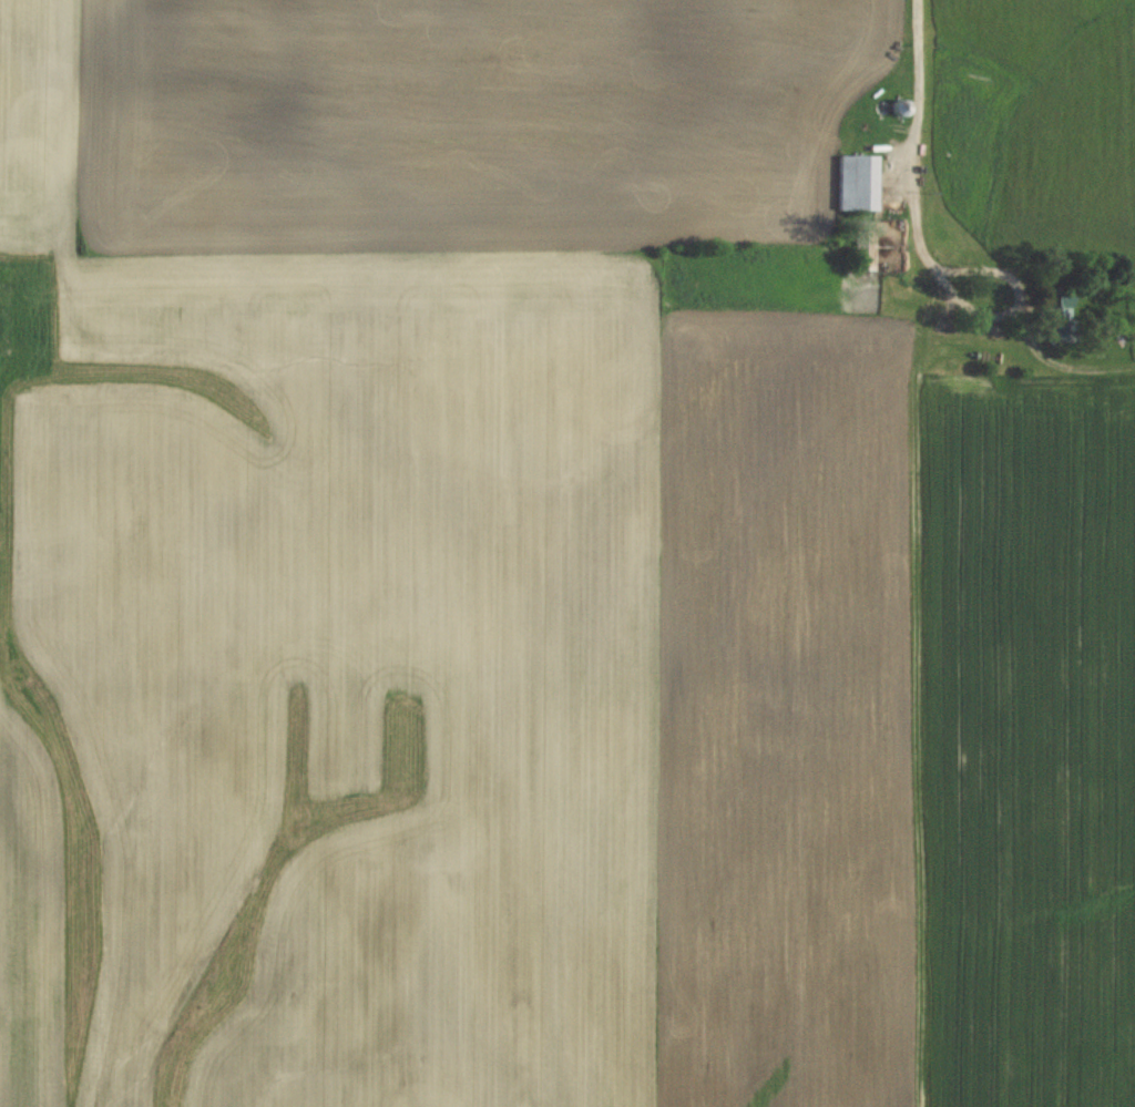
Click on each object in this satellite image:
road: (921, 131)
building: (858, 181)
building: (866, 245)
road: (1018, 293)

